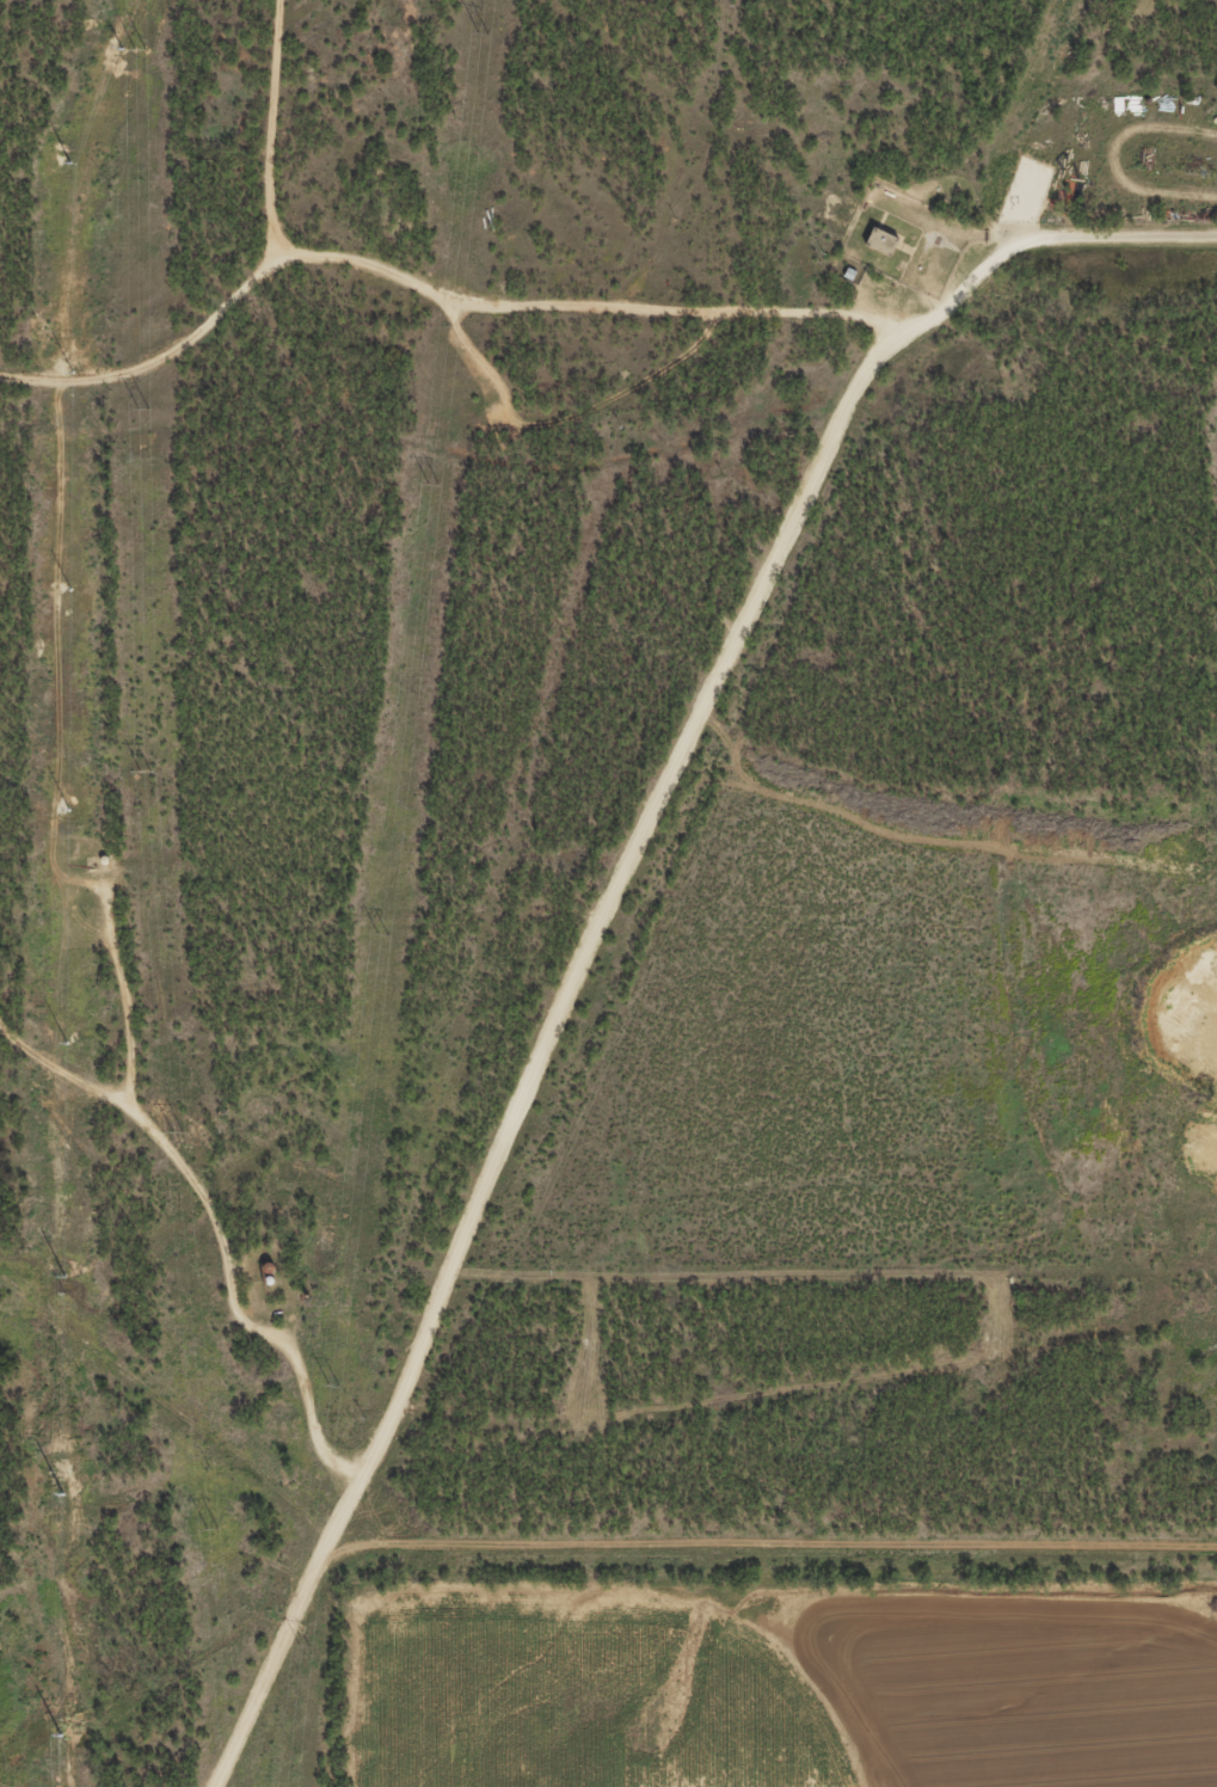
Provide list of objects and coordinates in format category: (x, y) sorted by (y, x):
power tower: (479, 32)
power tower: (139, 47)
building: (881, 241)
road: (257, 283)
power tower: (141, 409)
power tower: (430, 483)
power tower: (142, 773)
power tower: (380, 934)
power tower: (176, 1132)
road: (225, 1230)
power tower: (331, 1384)
road: (348, 1527)
power tower: (210, 1529)
power tower: (302, 1646)

